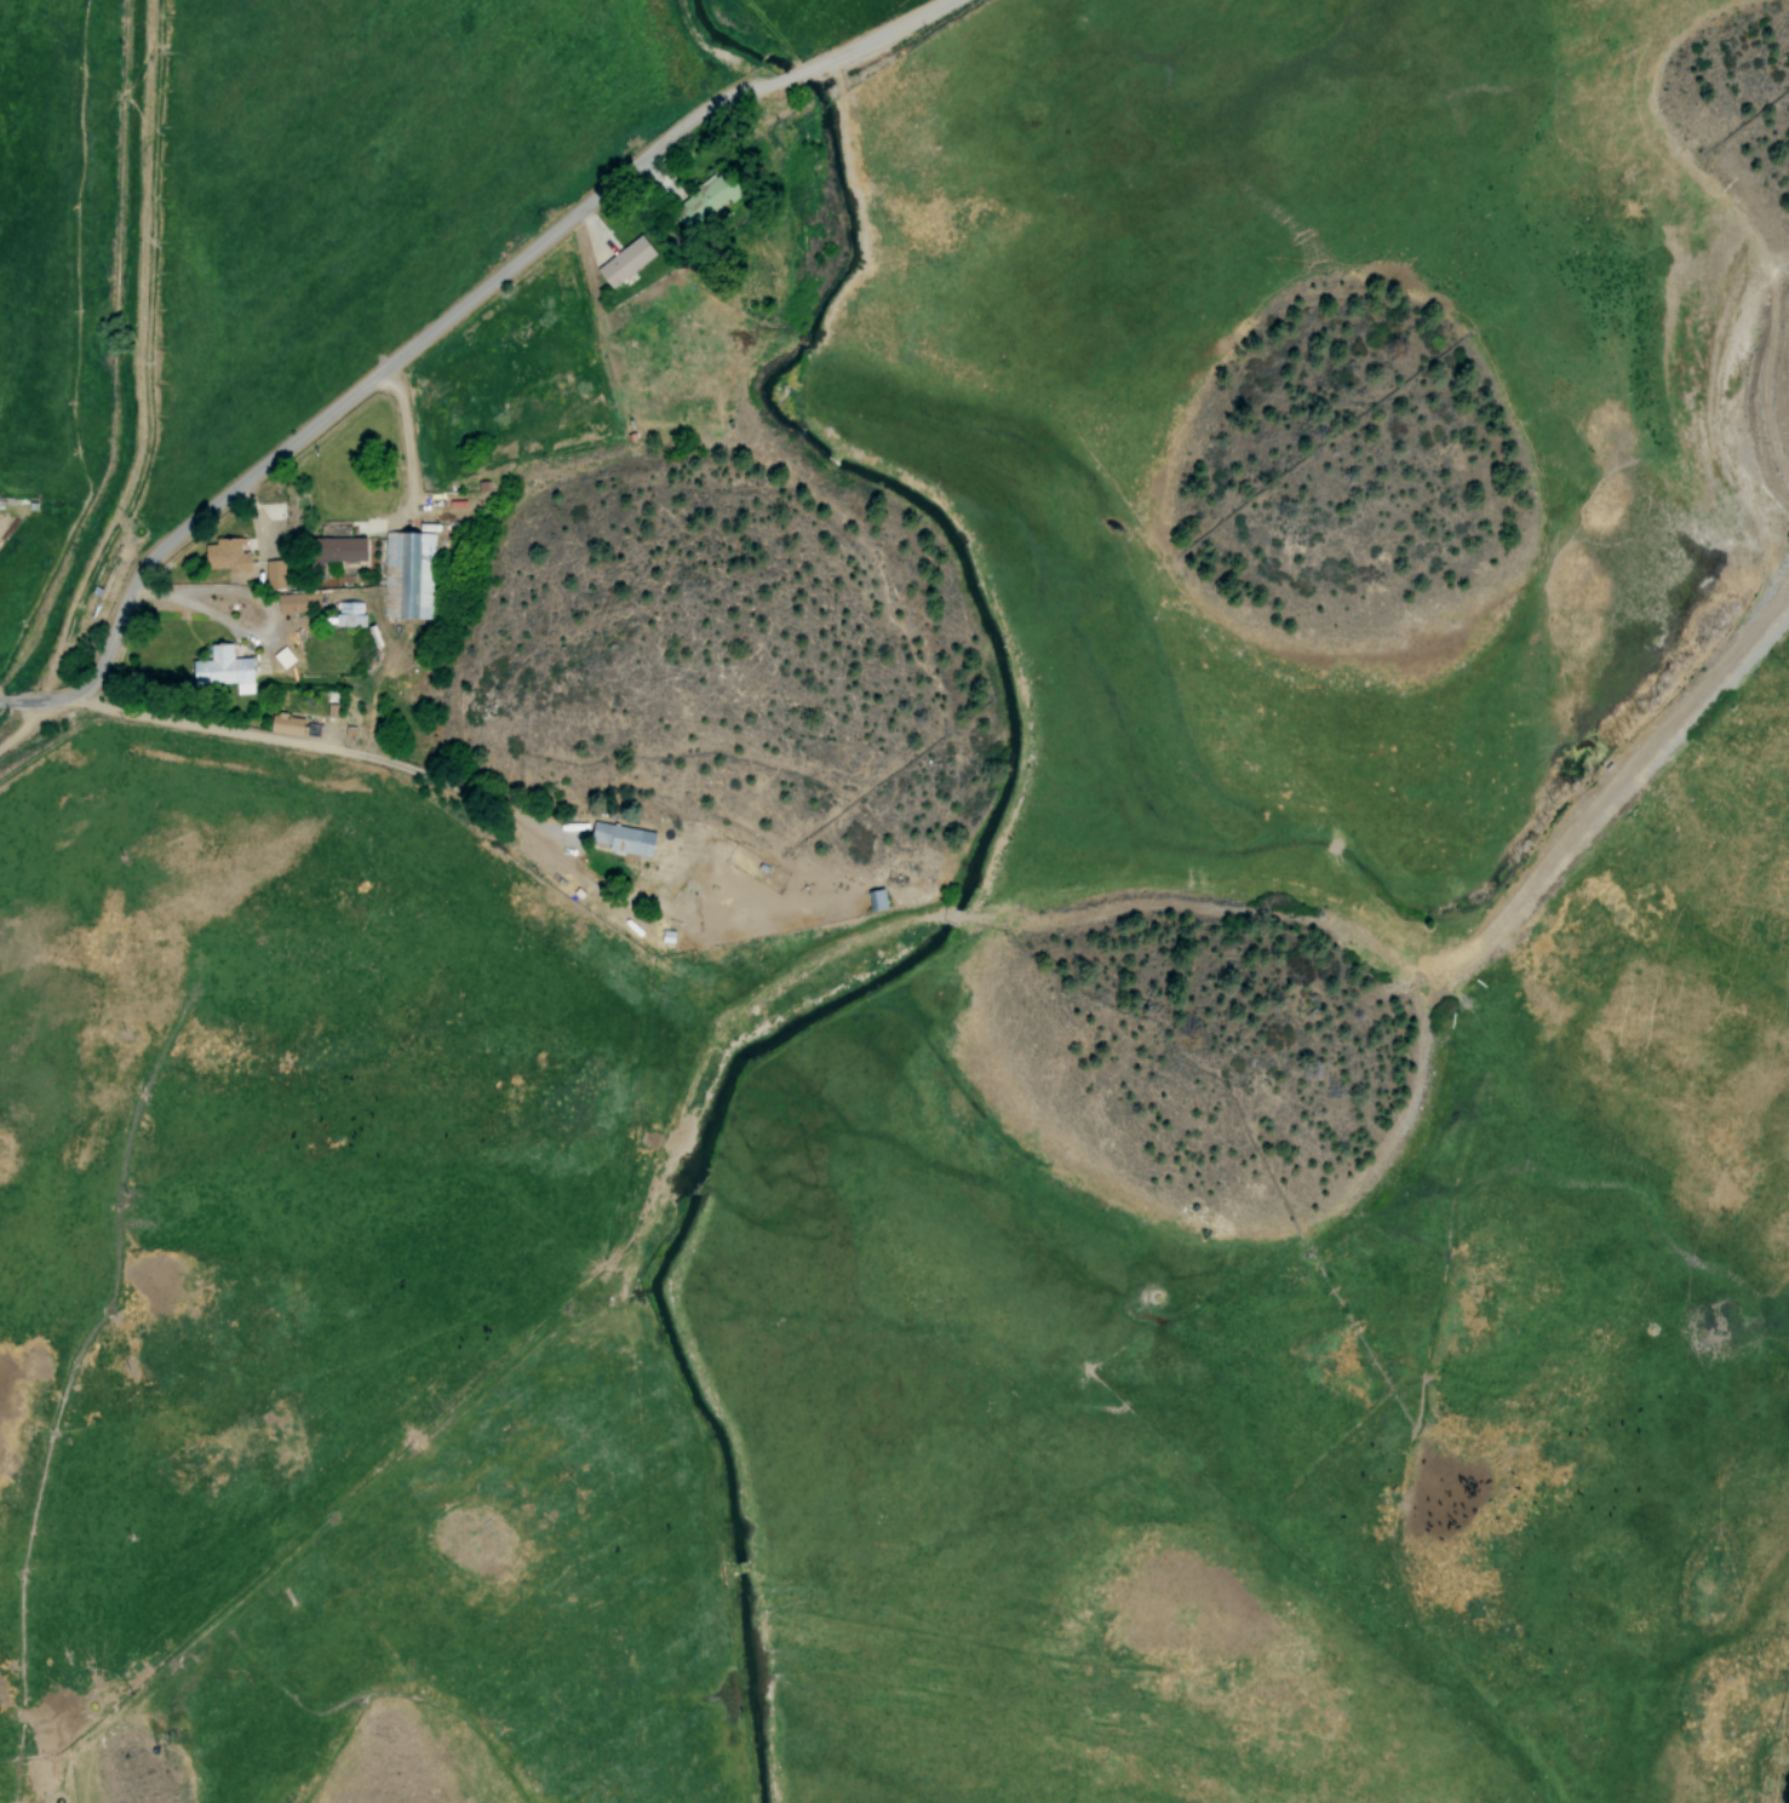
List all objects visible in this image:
building: (701, 201)
building: (624, 262)
road: (437, 321)
building: (332, 551)
building: (225, 555)
building: (273, 574)
building: (407, 574)
building: (293, 601)
building: (349, 613)
building: (282, 656)
building: (223, 668)
road: (188, 814)
building: (624, 839)
building: (876, 898)
river: (1788, 1796)

